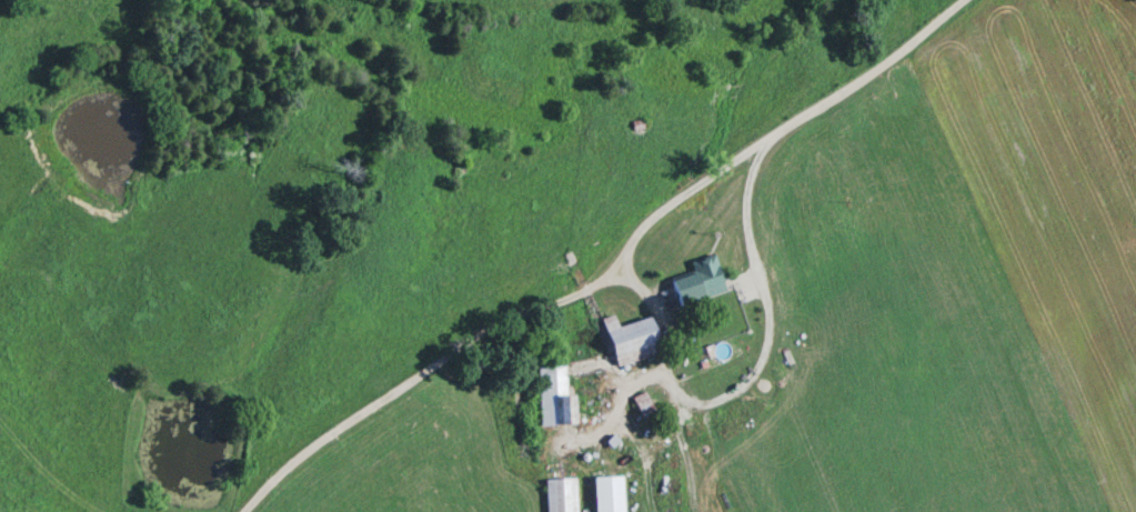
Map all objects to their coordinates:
road: (614, 271)
building: (710, 278)
building: (633, 341)
road: (753, 374)
building: (556, 400)
building: (562, 495)
building: (612, 495)

